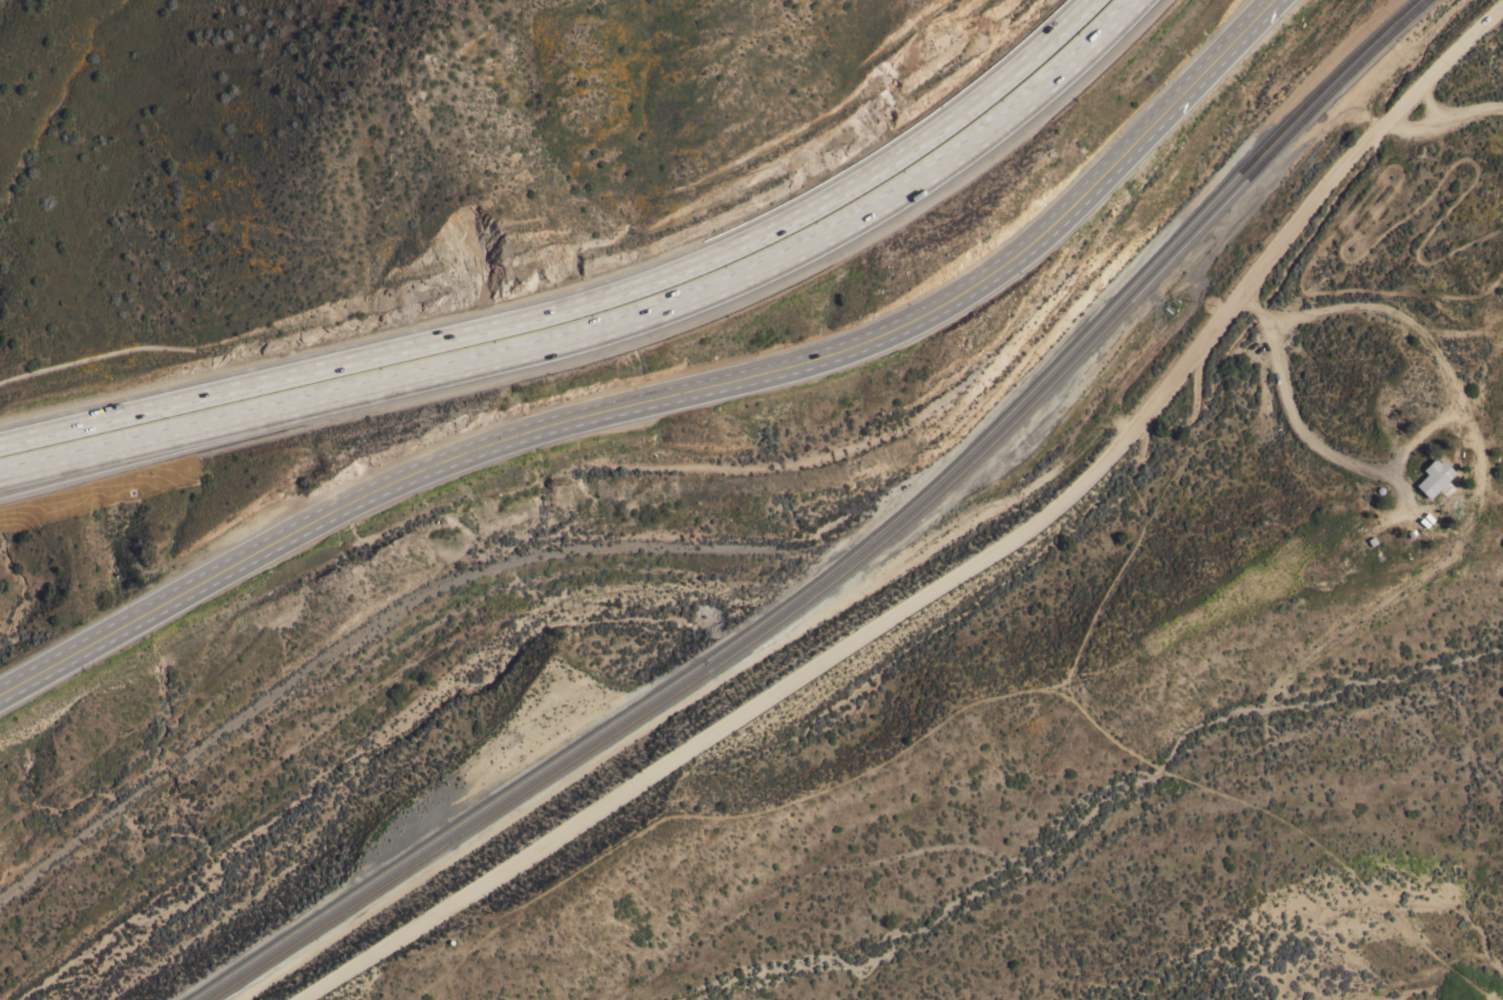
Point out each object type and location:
road: (1443, 127)
road: (588, 306)
road: (617, 336)
road: (662, 383)
road: (1290, 409)
building: (1436, 478)
railway: (862, 556)
railway: (847, 557)
road: (962, 572)

